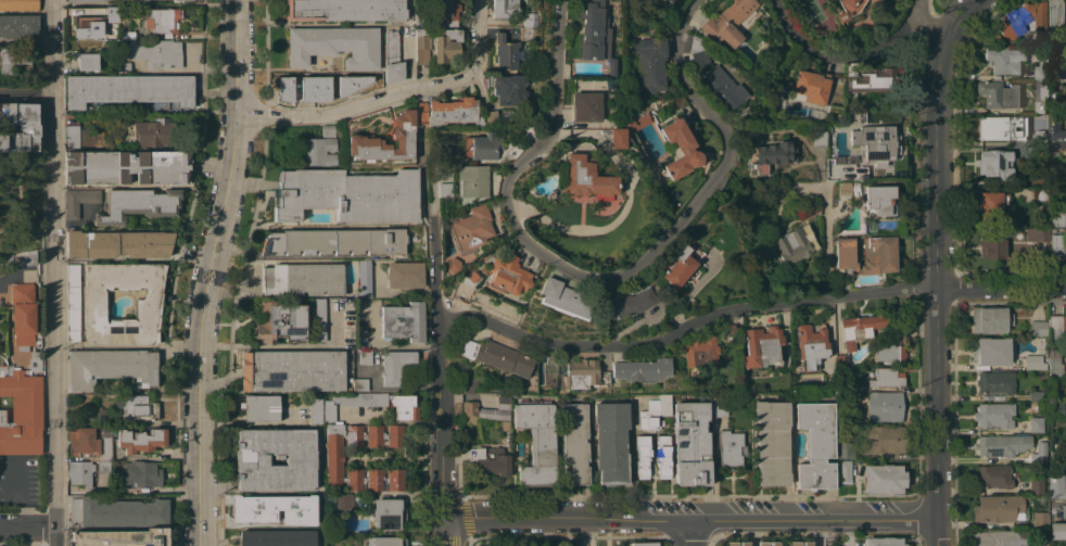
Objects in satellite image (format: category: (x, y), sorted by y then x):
building: (81, 0)
building: (144, 0)
building: (180, 0)
building: (649, 0)
building: (175, 1)
building: (671, 1)
building: (18, 4)
road: (910, 4)
building: (504, 8)
building: (848, 9)
building: (346, 10)
building: (112, 11)
building: (447, 12)
building: (1055, 14)
building: (421, 17)
building: (160, 20)
building: (531, 20)
building: (1021, 20)
building: (727, 22)
road: (923, 23)
building: (18, 25)
building: (86, 26)
building: (125, 28)
building: (593, 30)
building: (526, 34)
building: (422, 37)
building: (1025, 38)
building: (695, 43)
building: (334, 46)
building: (446, 46)
building: (156, 53)
building: (506, 53)
road: (838, 54)
building: (392, 56)
building: (422, 56)
building: (700, 59)
building: (1003, 60)
building: (87, 61)
building: (12, 62)
building: (649, 63)
building: (609, 66)
building: (124, 67)
building: (1041, 73)
building: (1062, 74)
building: (872, 80)
building: (318, 86)
building: (609, 86)
building: (811, 86)
building: (723, 88)
building: (128, 89)
building: (510, 90)
road: (26, 93)
building: (999, 94)
road: (393, 96)
building: (1041, 97)
building: (585, 106)
building: (447, 112)
building: (490, 117)
building: (635, 120)
building: (20, 127)
building: (1002, 128)
building: (1052, 131)
building: (71, 132)
building: (149, 132)
building: (402, 132)
building: (91, 136)
building: (617, 138)
building: (818, 138)
building: (876, 142)
building: (483, 145)
building: (319, 148)
building: (678, 149)
building: (1065, 151)
building: (1043, 153)
building: (772, 155)
building: (995, 164)
building: (126, 166)
building: (584, 179)
building: (472, 180)
building: (848, 188)
building: (444, 189)
building: (347, 194)
building: (1040, 194)
building: (879, 200)
building: (78, 201)
building: (138, 204)
building: (990, 206)
building: (1056, 218)
building: (471, 229)
building: (1036, 236)
road: (825, 240)
building: (334, 241)
building: (794, 243)
building: (990, 243)
building: (117, 244)
building: (1056, 244)
building: (878, 254)
building: (845, 257)
building: (22, 258)
building: (683, 263)
road: (935, 264)
building: (453, 265)
road: (208, 271)
road: (54, 272)
building: (404, 274)
road: (27, 275)
building: (507, 275)
building: (365, 278)
building: (302, 279)
road: (605, 280)
building: (461, 292)
building: (563, 297)
building: (72, 302)
building: (622, 304)
road: (746, 307)
building: (145, 309)
building: (23, 316)
building: (317, 319)
building: (990, 319)
building: (403, 321)
building: (278, 322)
building: (1053, 322)
building: (1038, 327)
building: (859, 329)
road: (267, 345)
building: (761, 346)
building: (811, 346)
building: (890, 348)
building: (700, 352)
building: (992, 352)
building: (35, 355)
building: (365, 356)
building: (495, 356)
building: (1033, 361)
building: (841, 363)
building: (1054, 364)
building: (111, 367)
building: (397, 368)
building: (642, 369)
building: (292, 370)
building: (583, 374)
building: (887, 378)
building: (994, 382)
road: (440, 383)
building: (359, 384)
building: (470, 385)
building: (1036, 395)
building: (351, 403)
building: (719, 404)
building: (140, 407)
building: (258, 407)
building: (404, 407)
building: (884, 407)
building: (315, 410)
building: (1055, 410)
building: (21, 411)
building: (470, 411)
building: (494, 411)
building: (655, 412)
building: (994, 415)
building: (103, 416)
road: (250, 422)
building: (1035, 423)
building: (884, 439)
building: (140, 440)
building: (536, 442)
building: (611, 442)
building: (771, 442)
building: (84, 443)
building: (575, 443)
building: (691, 443)
building: (815, 445)
building: (1001, 445)
building: (105, 448)
building: (729, 448)
building: (846, 450)
building: (1053, 454)
building: (643, 456)
building: (662, 456)
building: (334, 457)
building: (1037, 458)
building: (491, 459)
building: (252, 461)
building: (103, 467)
building: (845, 471)
building: (80, 472)
building: (138, 474)
building: (992, 477)
building: (883, 479)
building: (1056, 483)
building: (1036, 486)
road: (12, 490)
building: (316, 499)
building: (345, 501)
building: (998, 508)
building: (255, 509)
road: (26, 510)
building: (117, 512)
building: (388, 513)
building: (1040, 520)
road: (690, 522)
building: (1057, 530)
road: (28, 532)
road: (688, 534)
road: (813, 534)
building: (120, 537)
building: (277, 537)
building: (1000, 537)
building: (385, 541)
building: (883, 542)
building: (1043, 543)
building: (643, 544)
building: (737, 544)
building: (767, 544)
building: (799, 544)

